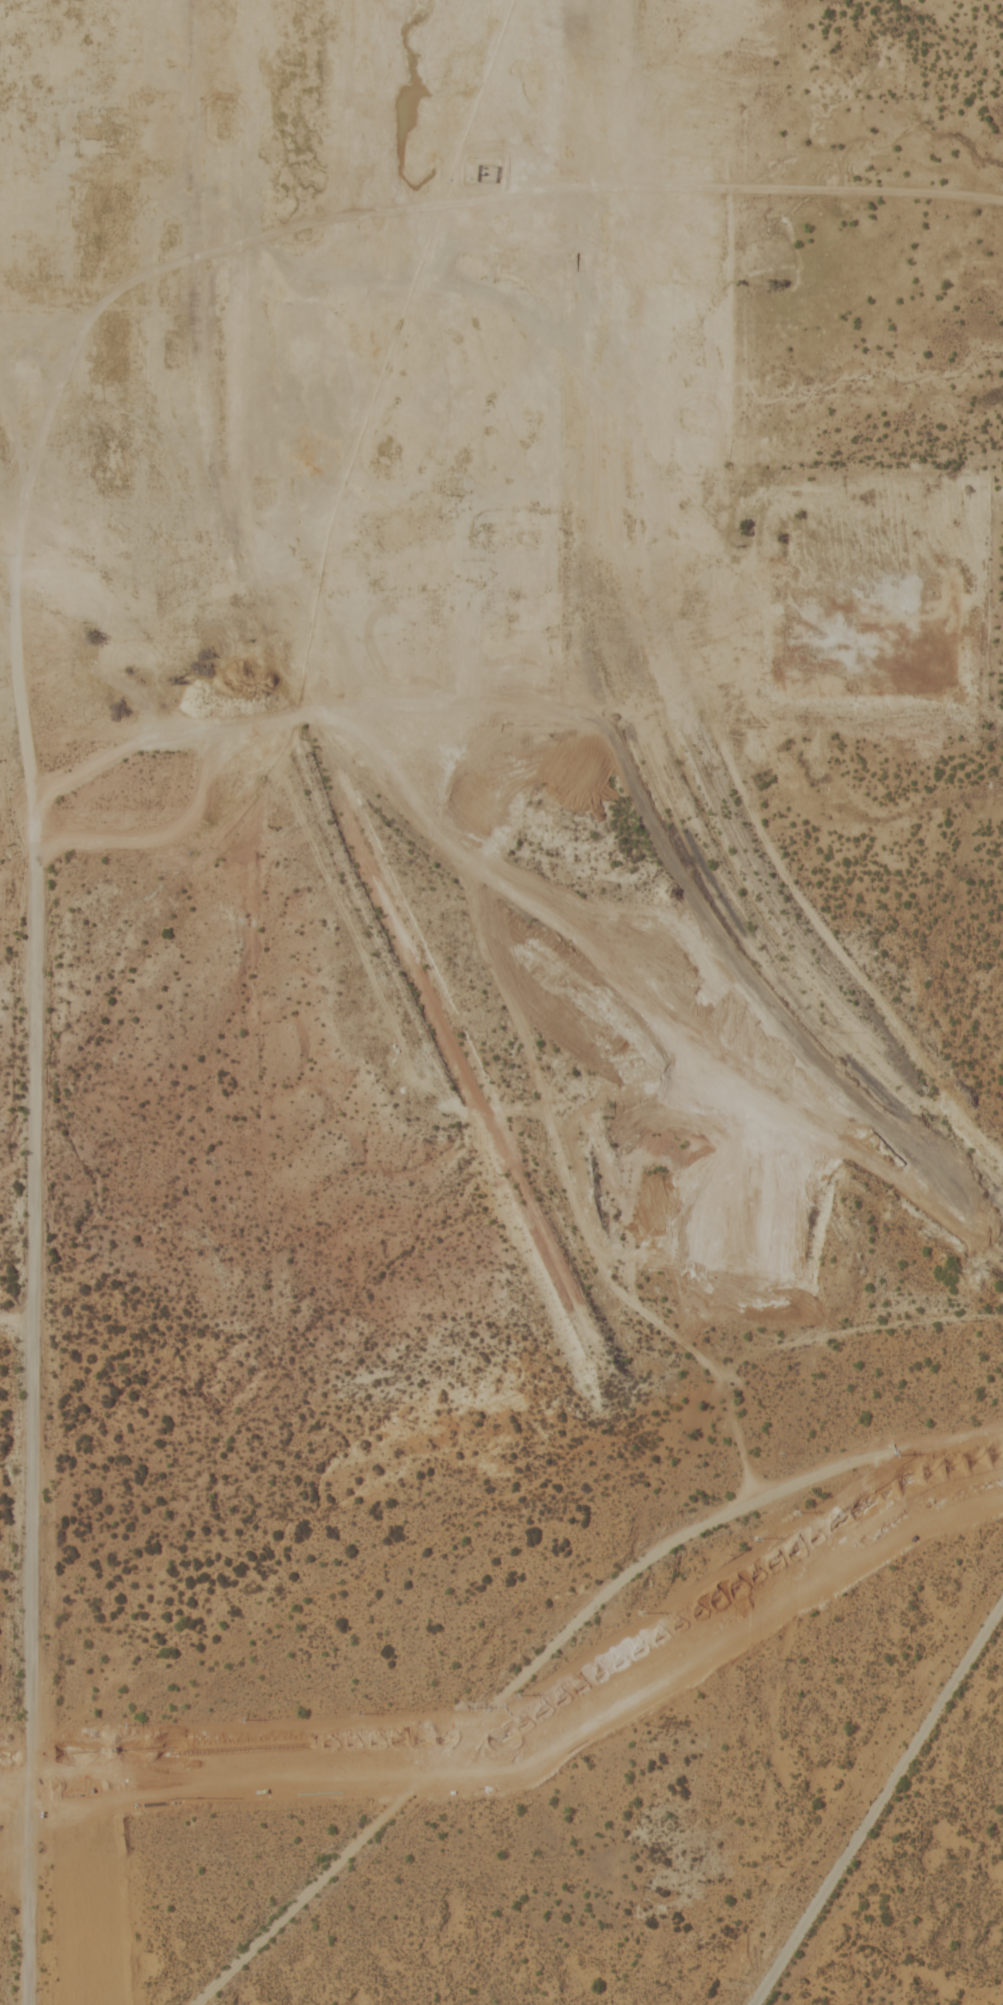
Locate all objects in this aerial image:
road: (13, 645)
railway: (633, 660)
railway: (632, 994)
road: (17, 1322)
road: (34, 1338)
road: (554, 1644)
road: (878, 1801)

